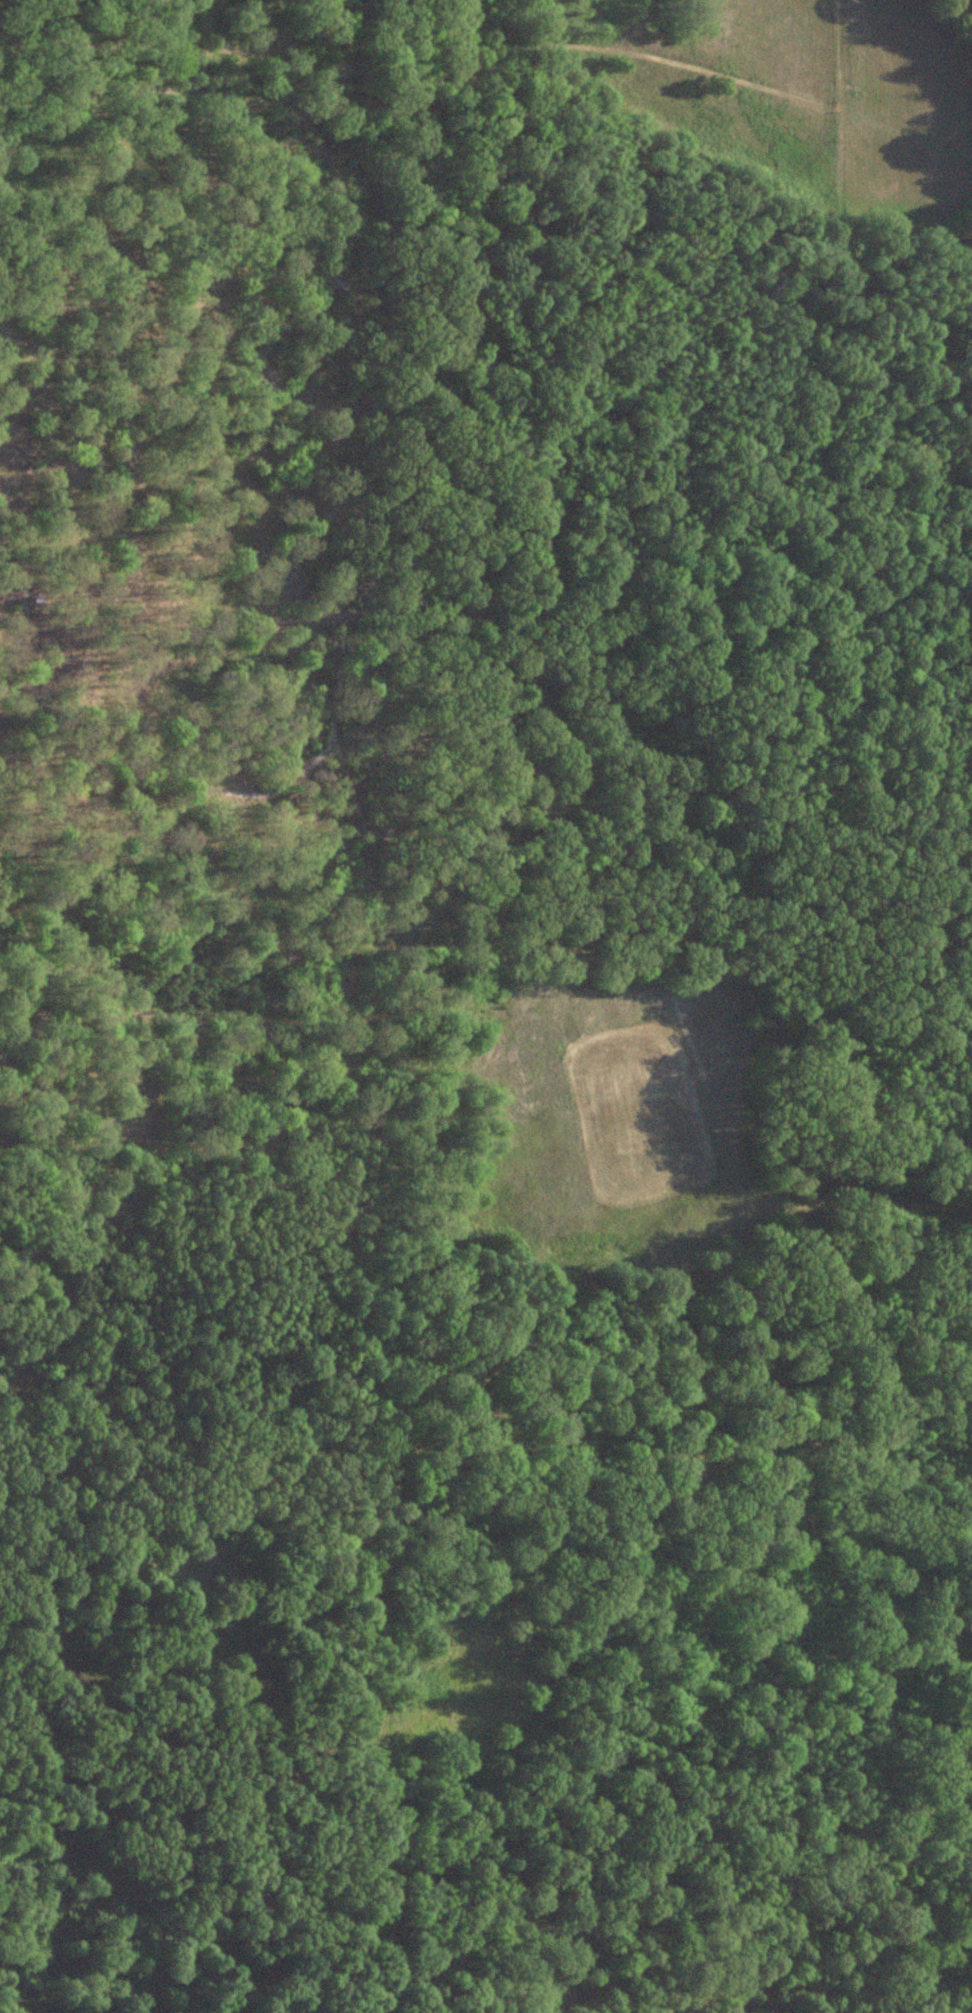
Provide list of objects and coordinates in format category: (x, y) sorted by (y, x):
road: (646, 54)
road: (906, 128)
road: (410, 153)
building: (421, 300)
road: (535, 660)
road: (760, 1201)

